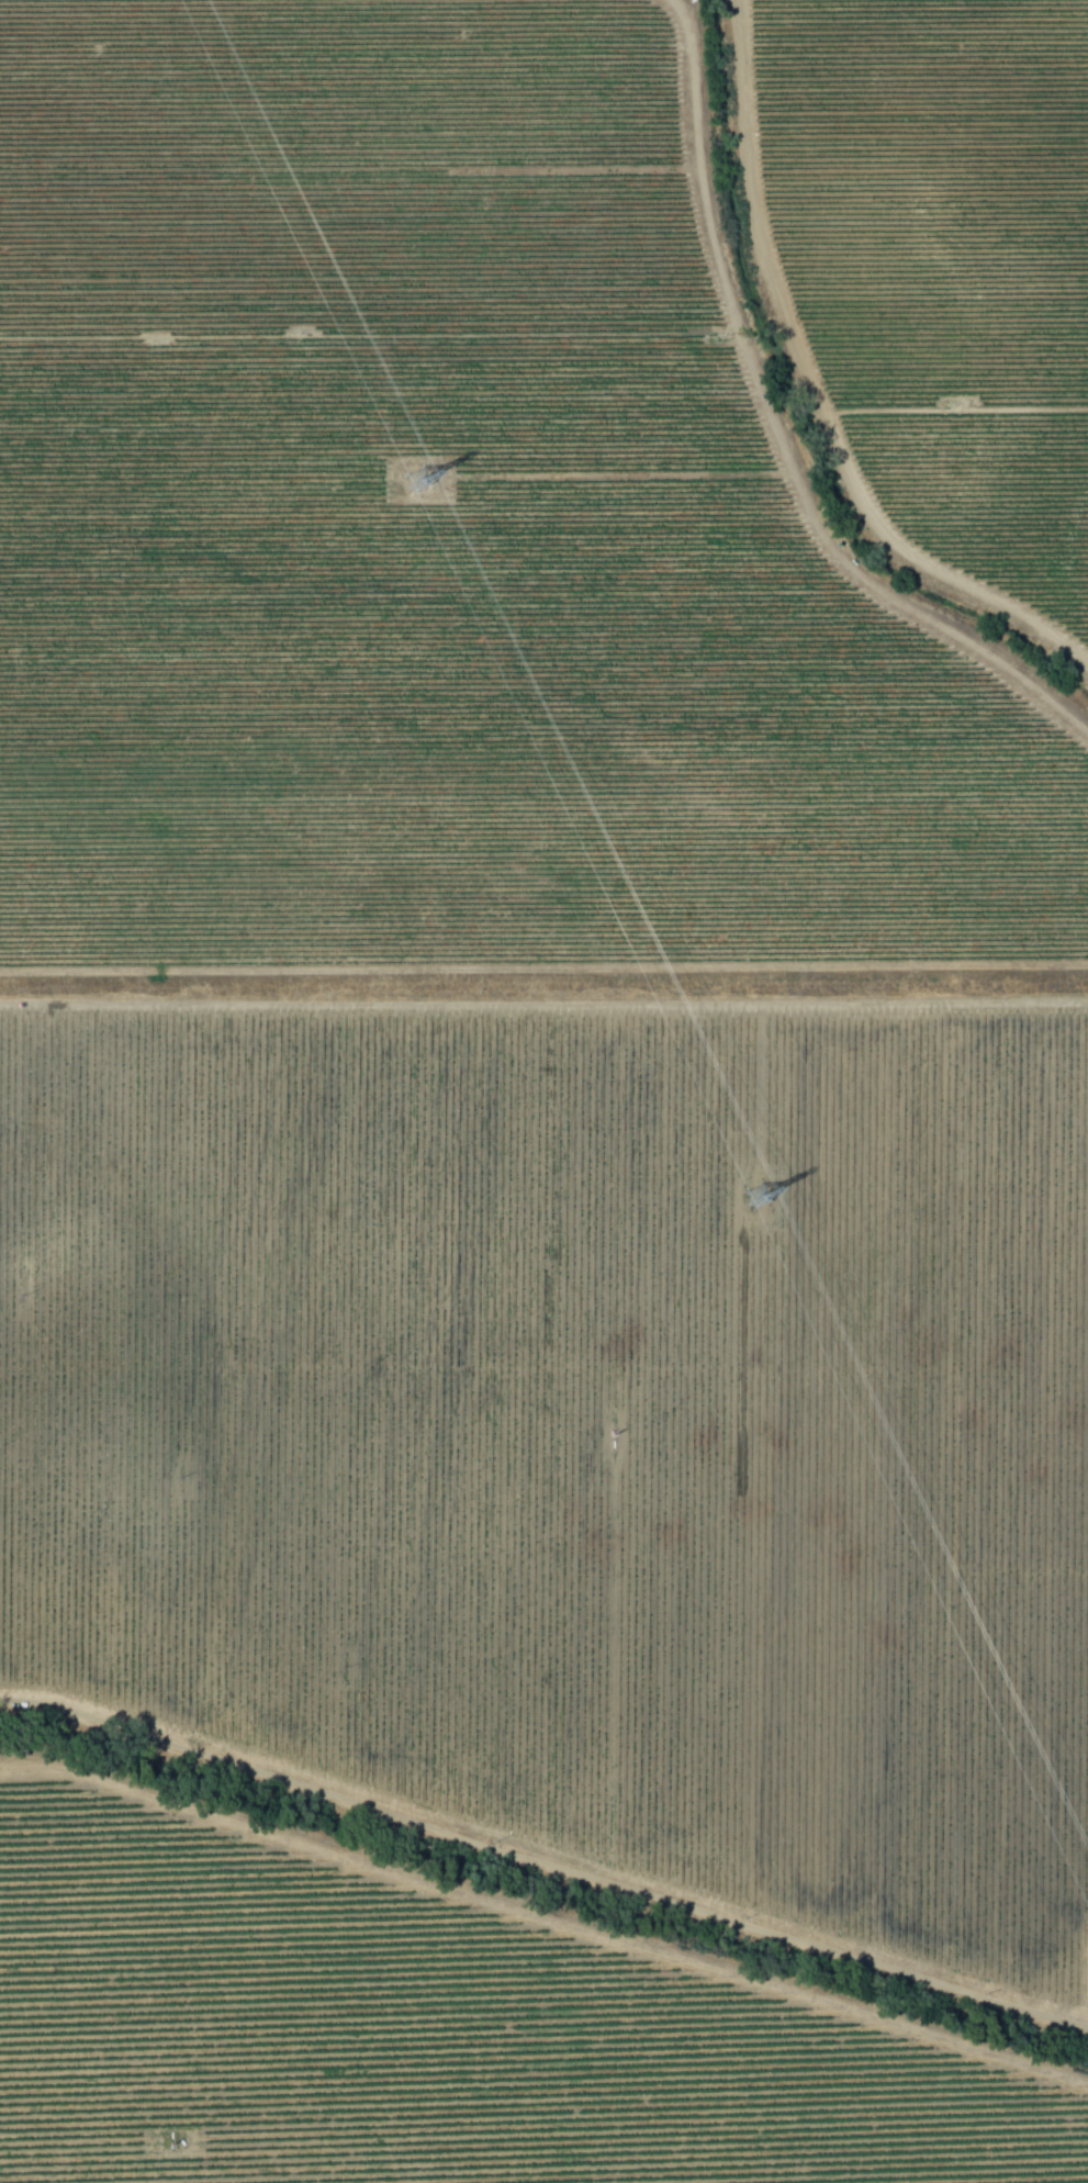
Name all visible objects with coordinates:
power tower: (397, 447)
power tower: (737, 1184)
road: (543, 1868)

